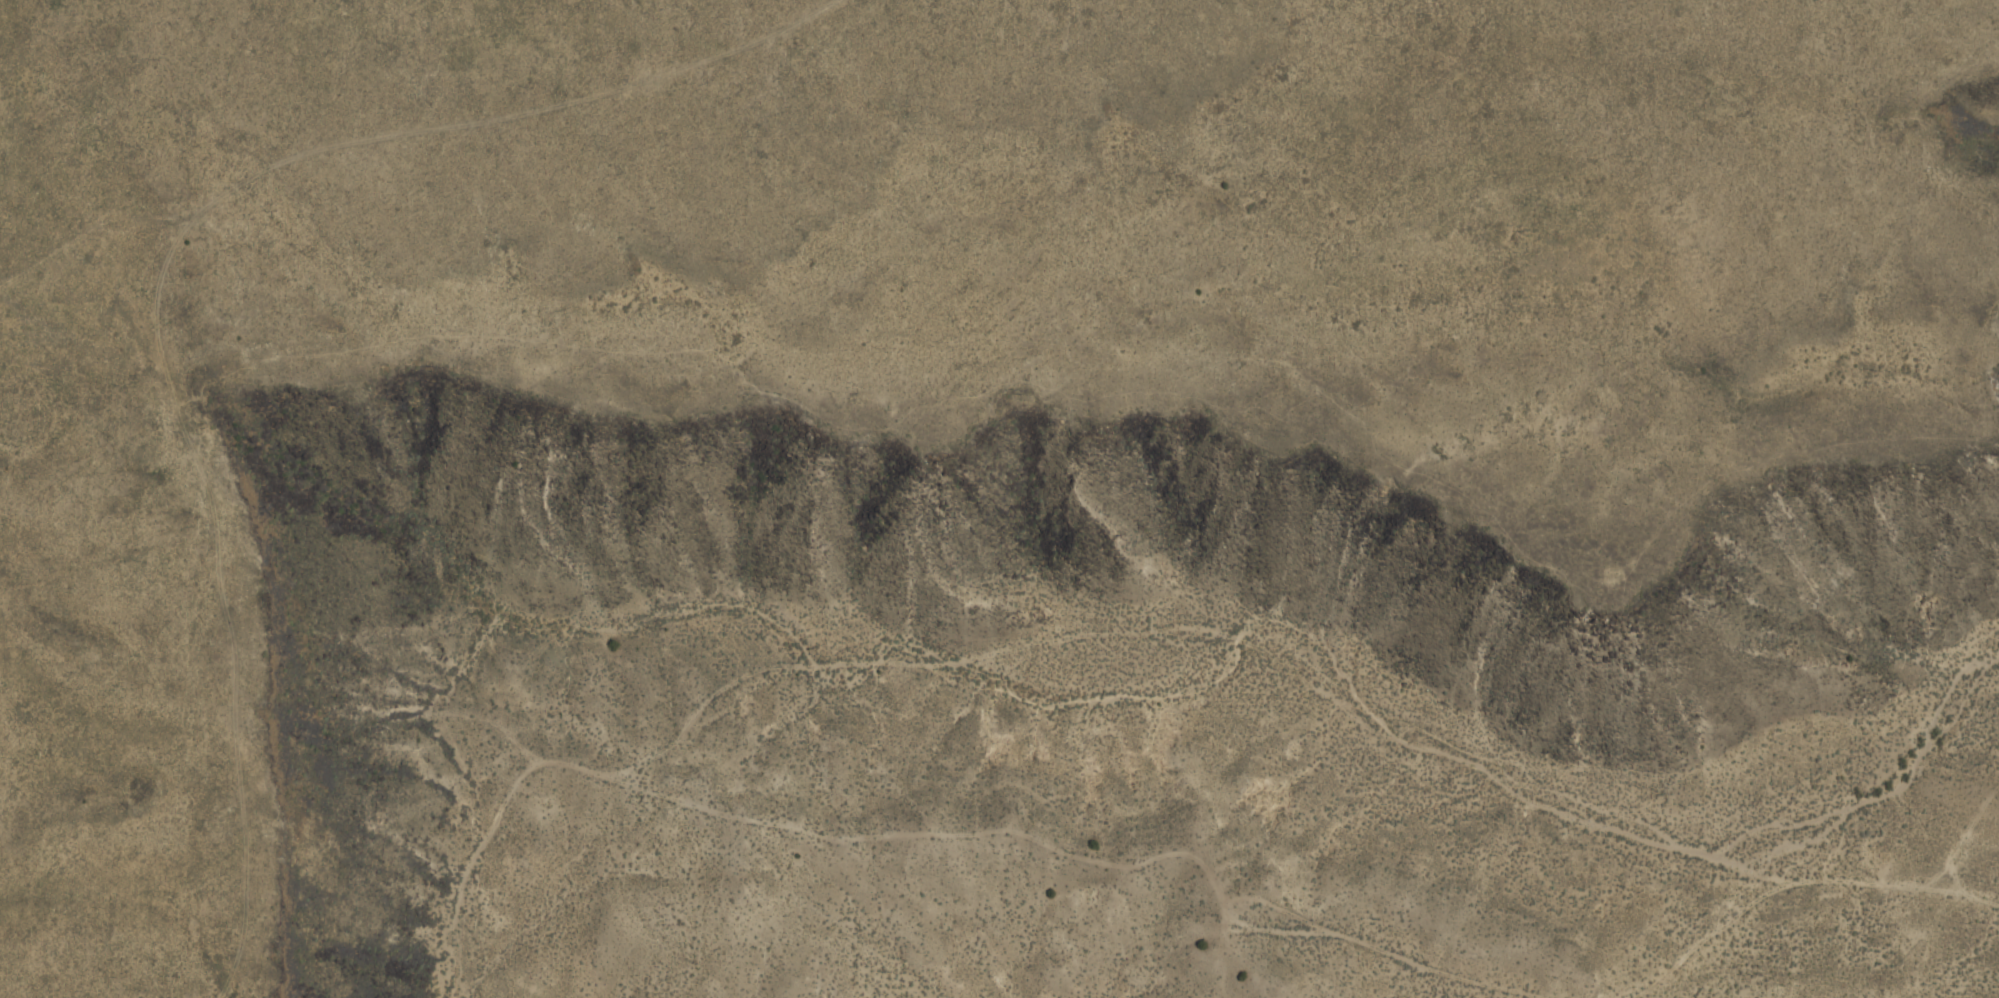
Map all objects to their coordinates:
road: (167, 268)

